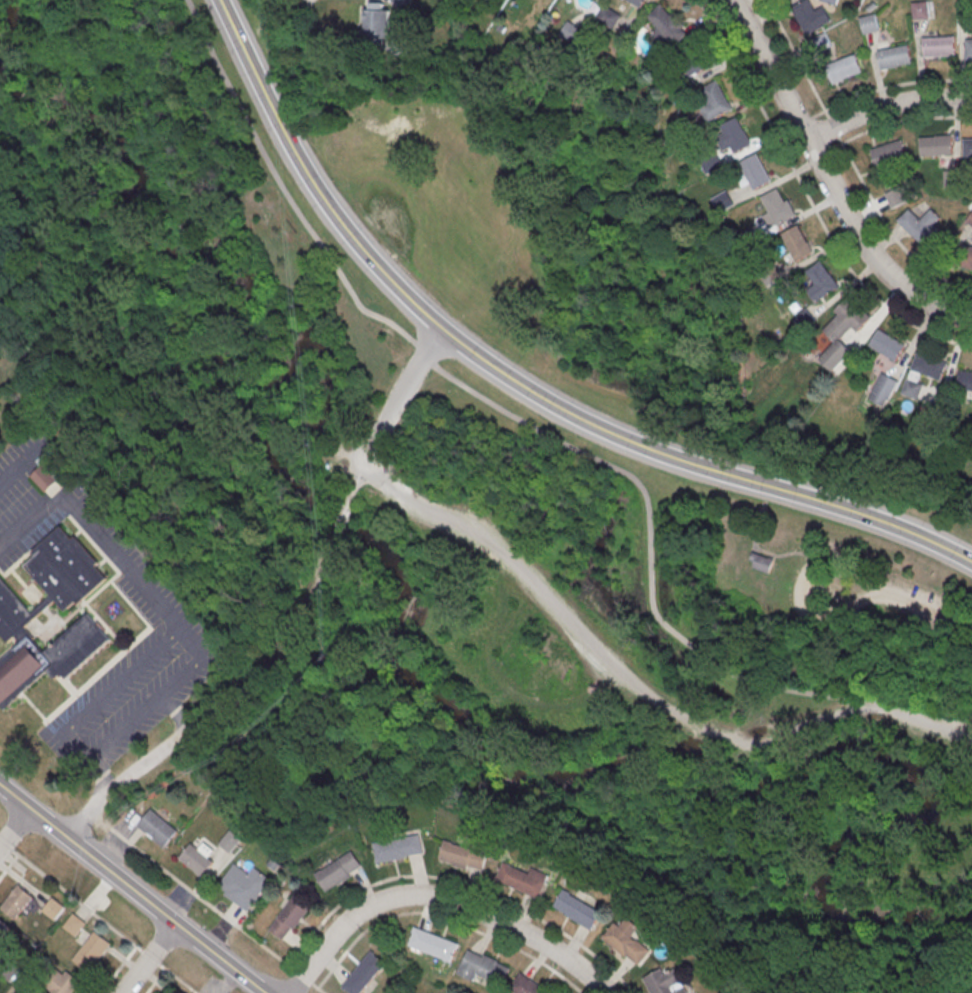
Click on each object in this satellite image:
building: (636, 2)
building: (828, 2)
building: (404, 3)
building: (918, 9)
building: (964, 10)
building: (810, 18)
building: (608, 19)
road: (242, 22)
building: (867, 23)
building: (665, 24)
building: (378, 25)
river: (8, 27)
building: (570, 33)
building: (820, 45)
building: (936, 45)
building: (967, 47)
building: (893, 56)
building: (693, 62)
building: (843, 71)
road: (895, 84)
building: (715, 98)
road: (886, 106)
road: (834, 130)
building: (735, 134)
building: (935, 147)
building: (967, 149)
building: (889, 155)
building: (714, 164)
building: (756, 171)
building: (952, 180)
road: (828, 181)
road: (808, 197)
building: (897, 199)
building: (724, 203)
building: (777, 208)
building: (969, 219)
building: (923, 229)
road: (889, 233)
building: (755, 237)
building: (798, 242)
building: (967, 257)
road: (31, 268)
building: (772, 276)
building: (822, 284)
road: (54, 320)
building: (806, 320)
road: (158, 325)
building: (844, 333)
building: (888, 347)
building: (930, 368)
building: (965, 382)
road: (514, 384)
building: (884, 391)
road: (401, 395)
road: (547, 435)
park: (436, 442)
parking lot: (364, 461)
road: (17, 467)
building: (333, 467)
building: (48, 475)
road: (360, 477)
road: (659, 477)
road: (351, 498)
road: (184, 509)
road: (343, 520)
road: (96, 530)
road: (754, 534)
road: (317, 541)
road: (786, 554)
building: (761, 561)
road: (798, 589)
parking lot: (854, 591)
road: (927, 605)
river: (396, 612)
road: (690, 613)
building: (16, 623)
road: (805, 629)
road: (286, 641)
road: (747, 641)
road: (195, 643)
road: (233, 660)
park: (837, 660)
road: (263, 670)
road: (783, 673)
road: (125, 679)
road: (637, 688)
road: (151, 708)
road: (177, 714)
road: (82, 744)
road: (103, 773)
road: (128, 775)
building: (157, 827)
road: (15, 829)
building: (230, 840)
building: (400, 848)
building: (463, 855)
building: (198, 858)
road: (8, 867)
building: (339, 870)
building: (522, 878)
building: (244, 886)
road: (131, 890)
road: (439, 899)
building: (17, 905)
building: (53, 908)
building: (577, 909)
road: (215, 912)
building: (289, 917)
road: (96, 918)
building: (74, 924)
building: (3, 931)
building: (628, 943)
building: (433, 946)
building: (92, 954)
road: (147, 958)
building: (482, 966)
building: (363, 973)
road: (155, 981)
building: (665, 982)
building: (67, 985)
building: (525, 985)
park: (776, 991)

